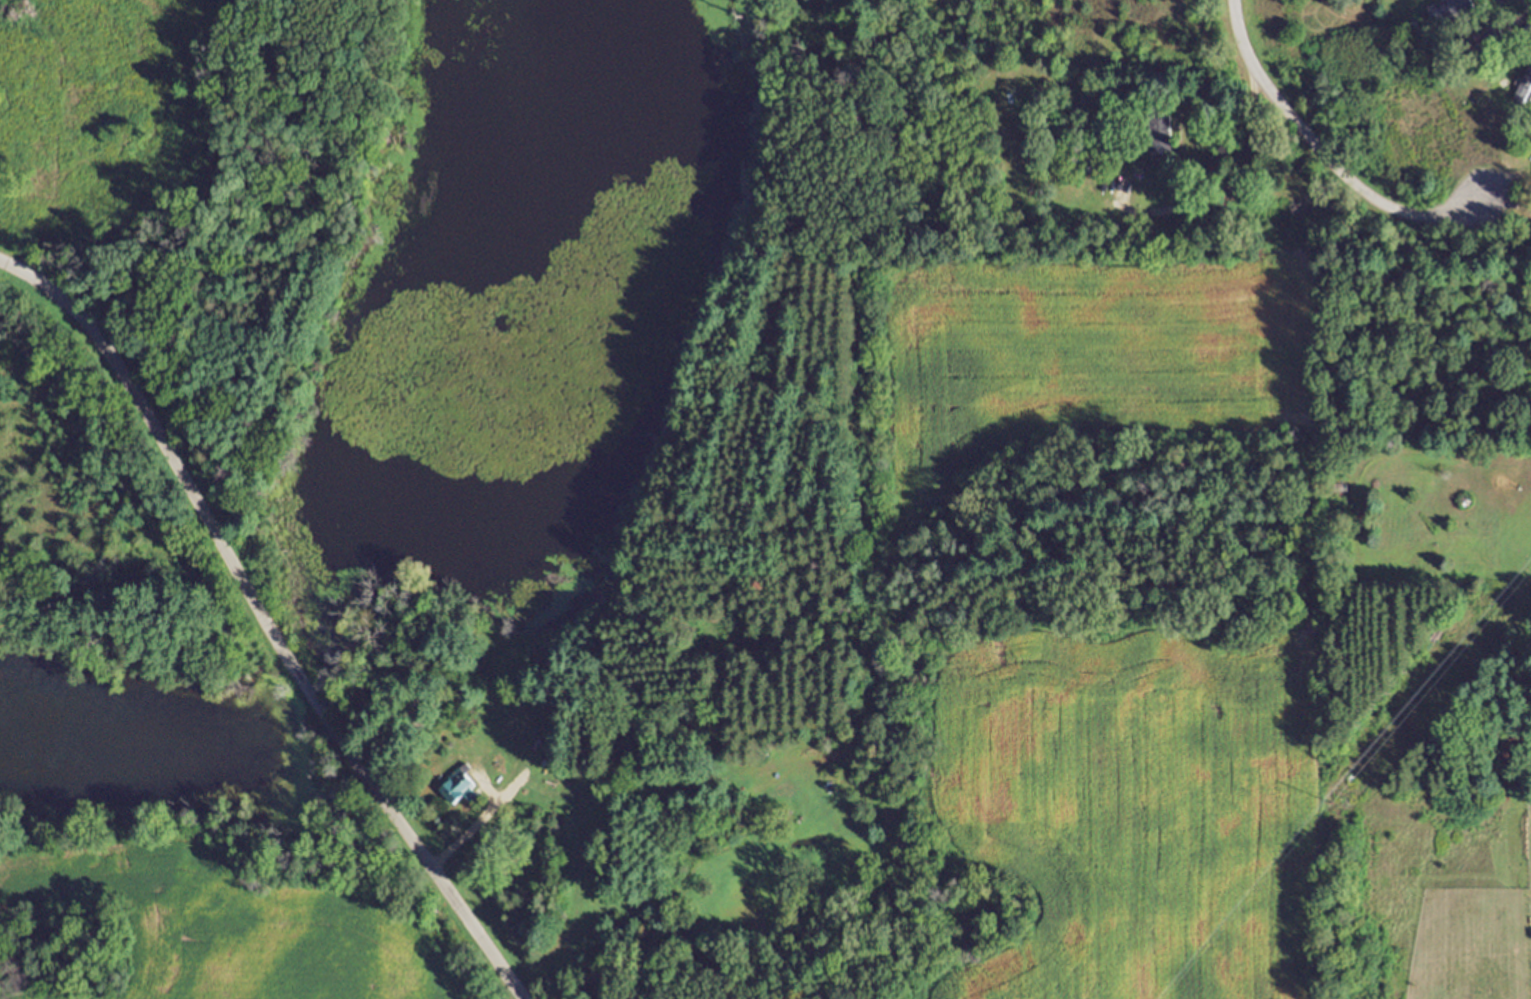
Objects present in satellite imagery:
road: (1530, 0)
building: (1453, 13)
building: (1522, 92)
building: (1163, 134)
road: (1327, 159)
road: (1230, 190)
road: (266, 621)
building: (462, 789)

